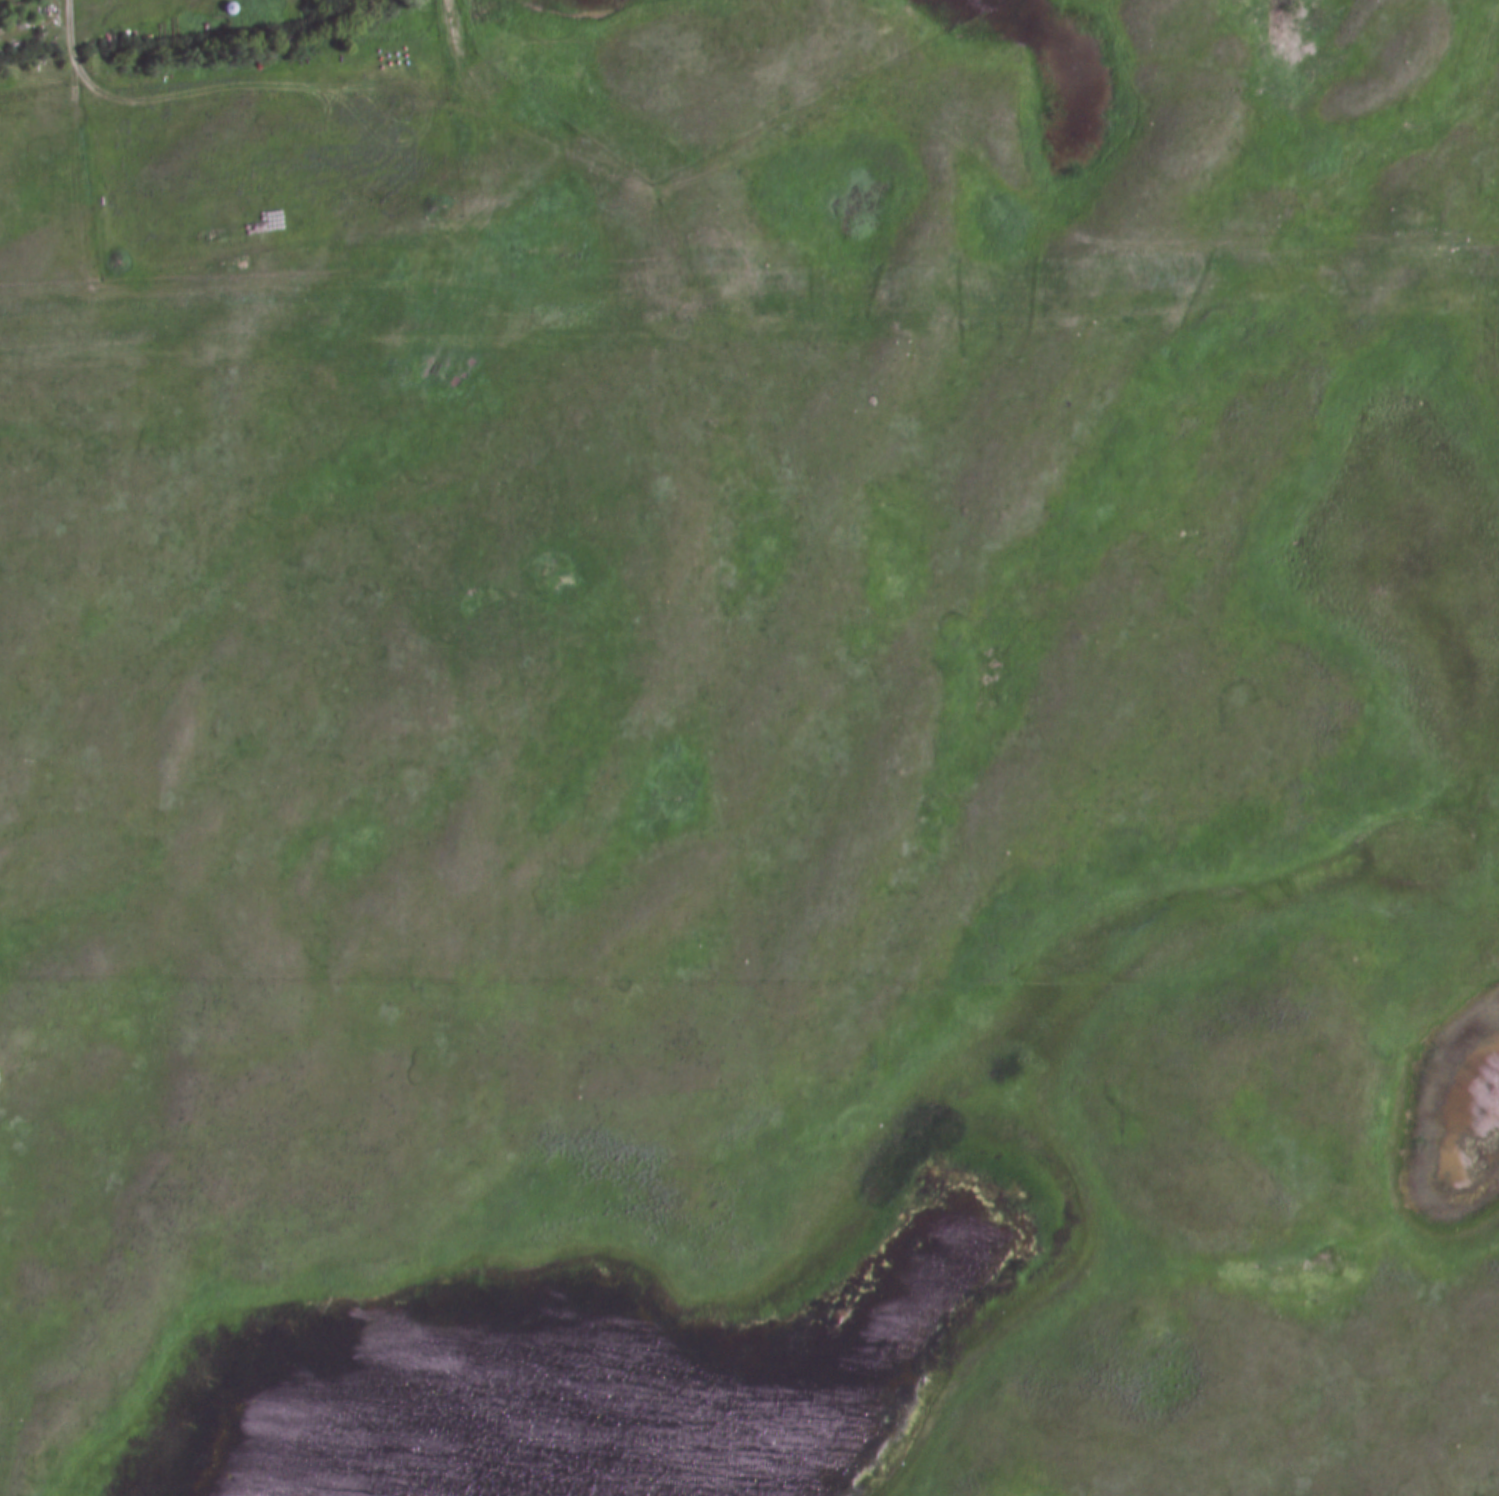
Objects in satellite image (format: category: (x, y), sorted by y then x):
road: (455, 55)
road: (312, 90)

